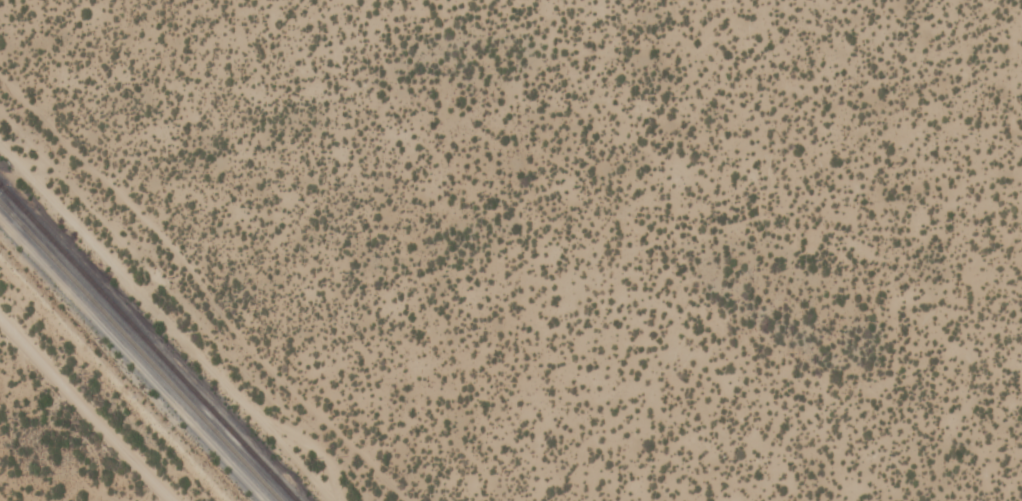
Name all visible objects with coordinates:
road: (204, 283)
road: (164, 325)
railway: (147, 344)
railway: (139, 352)
road: (85, 408)

